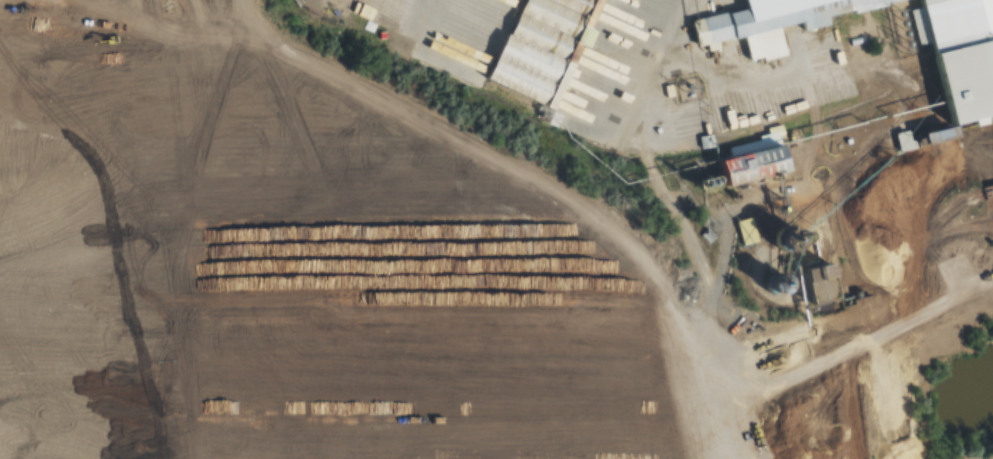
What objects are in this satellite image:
building: (762, 16)
building: (541, 47)
building: (959, 54)
building: (906, 140)
building: (762, 164)
road: (536, 185)
building: (748, 230)
building: (828, 283)

